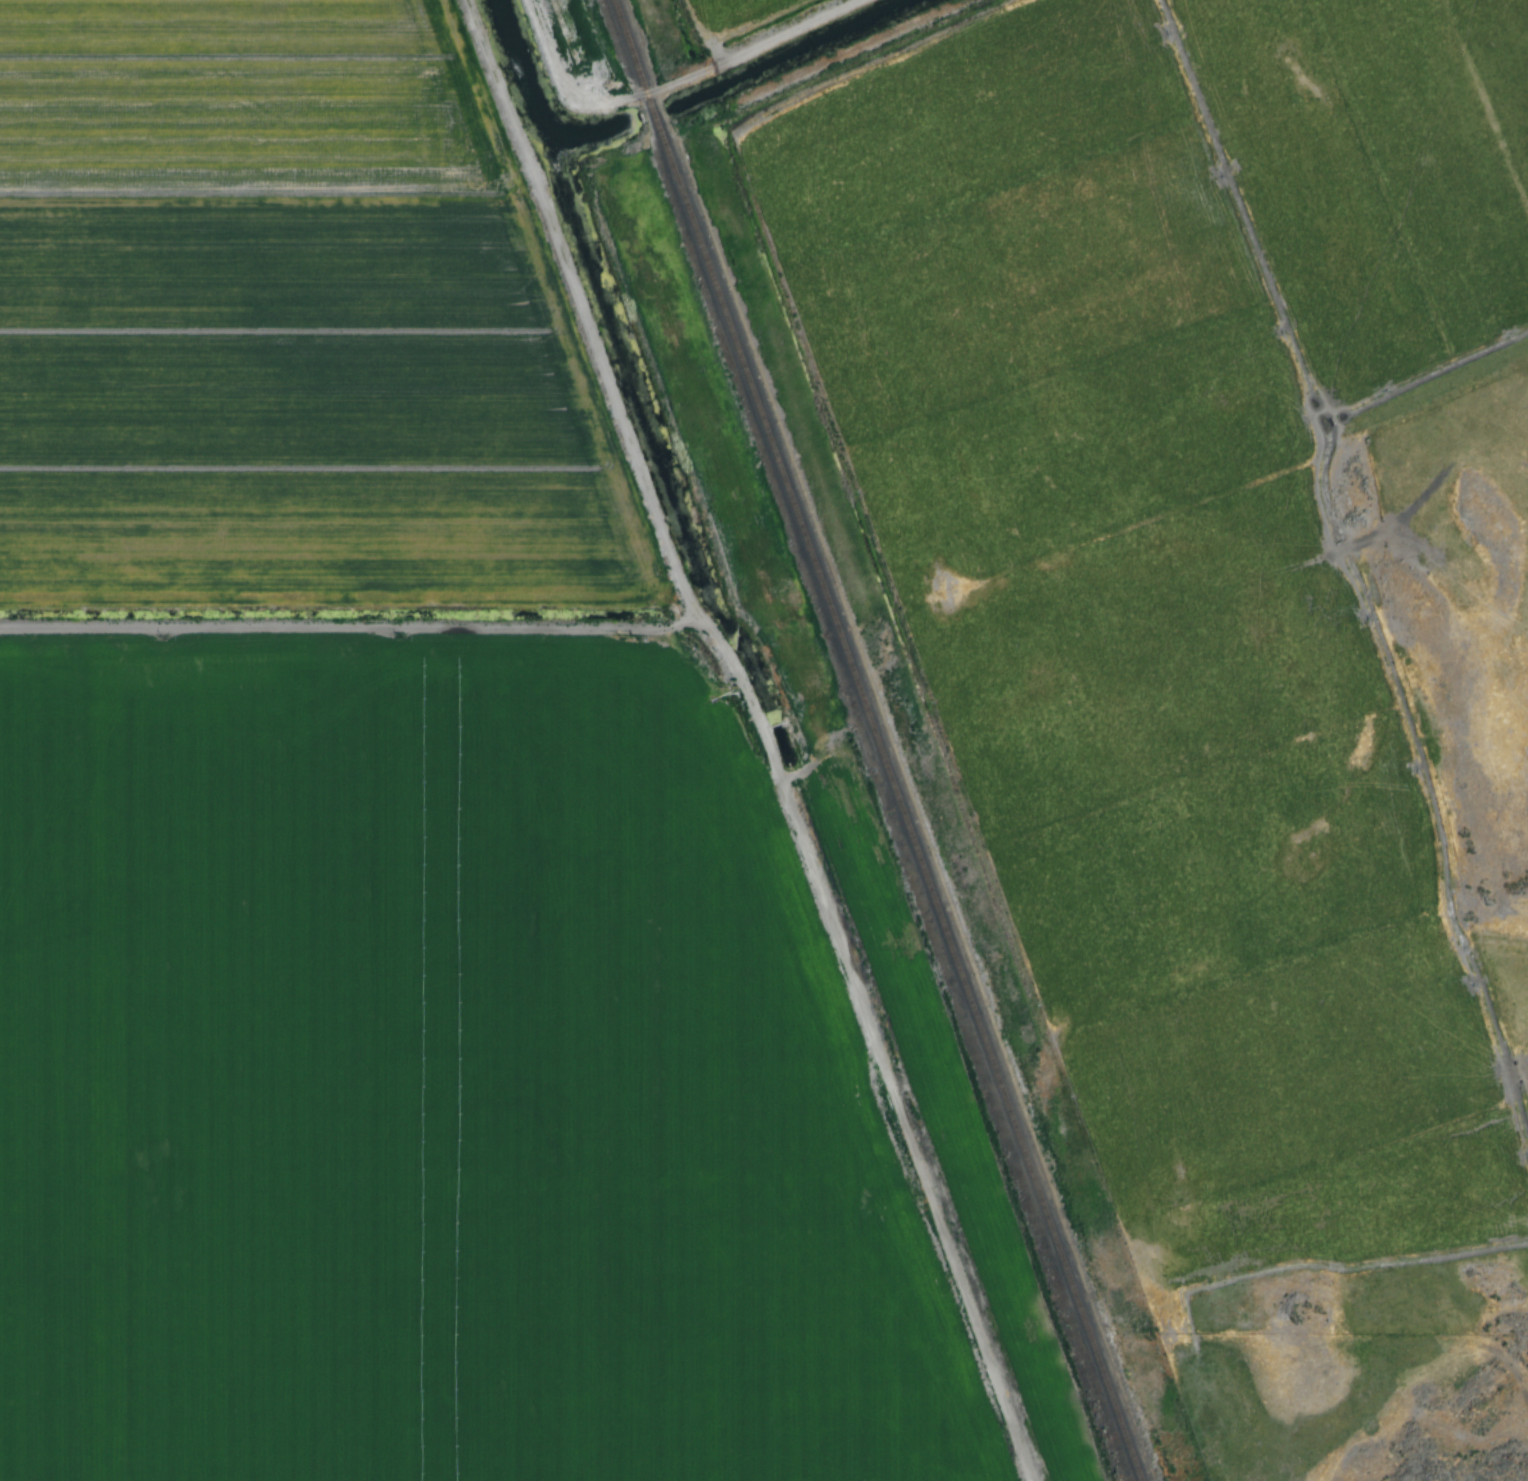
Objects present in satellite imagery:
crop: (286, 320)
railway: (874, 740)
crop: (421, 1086)

